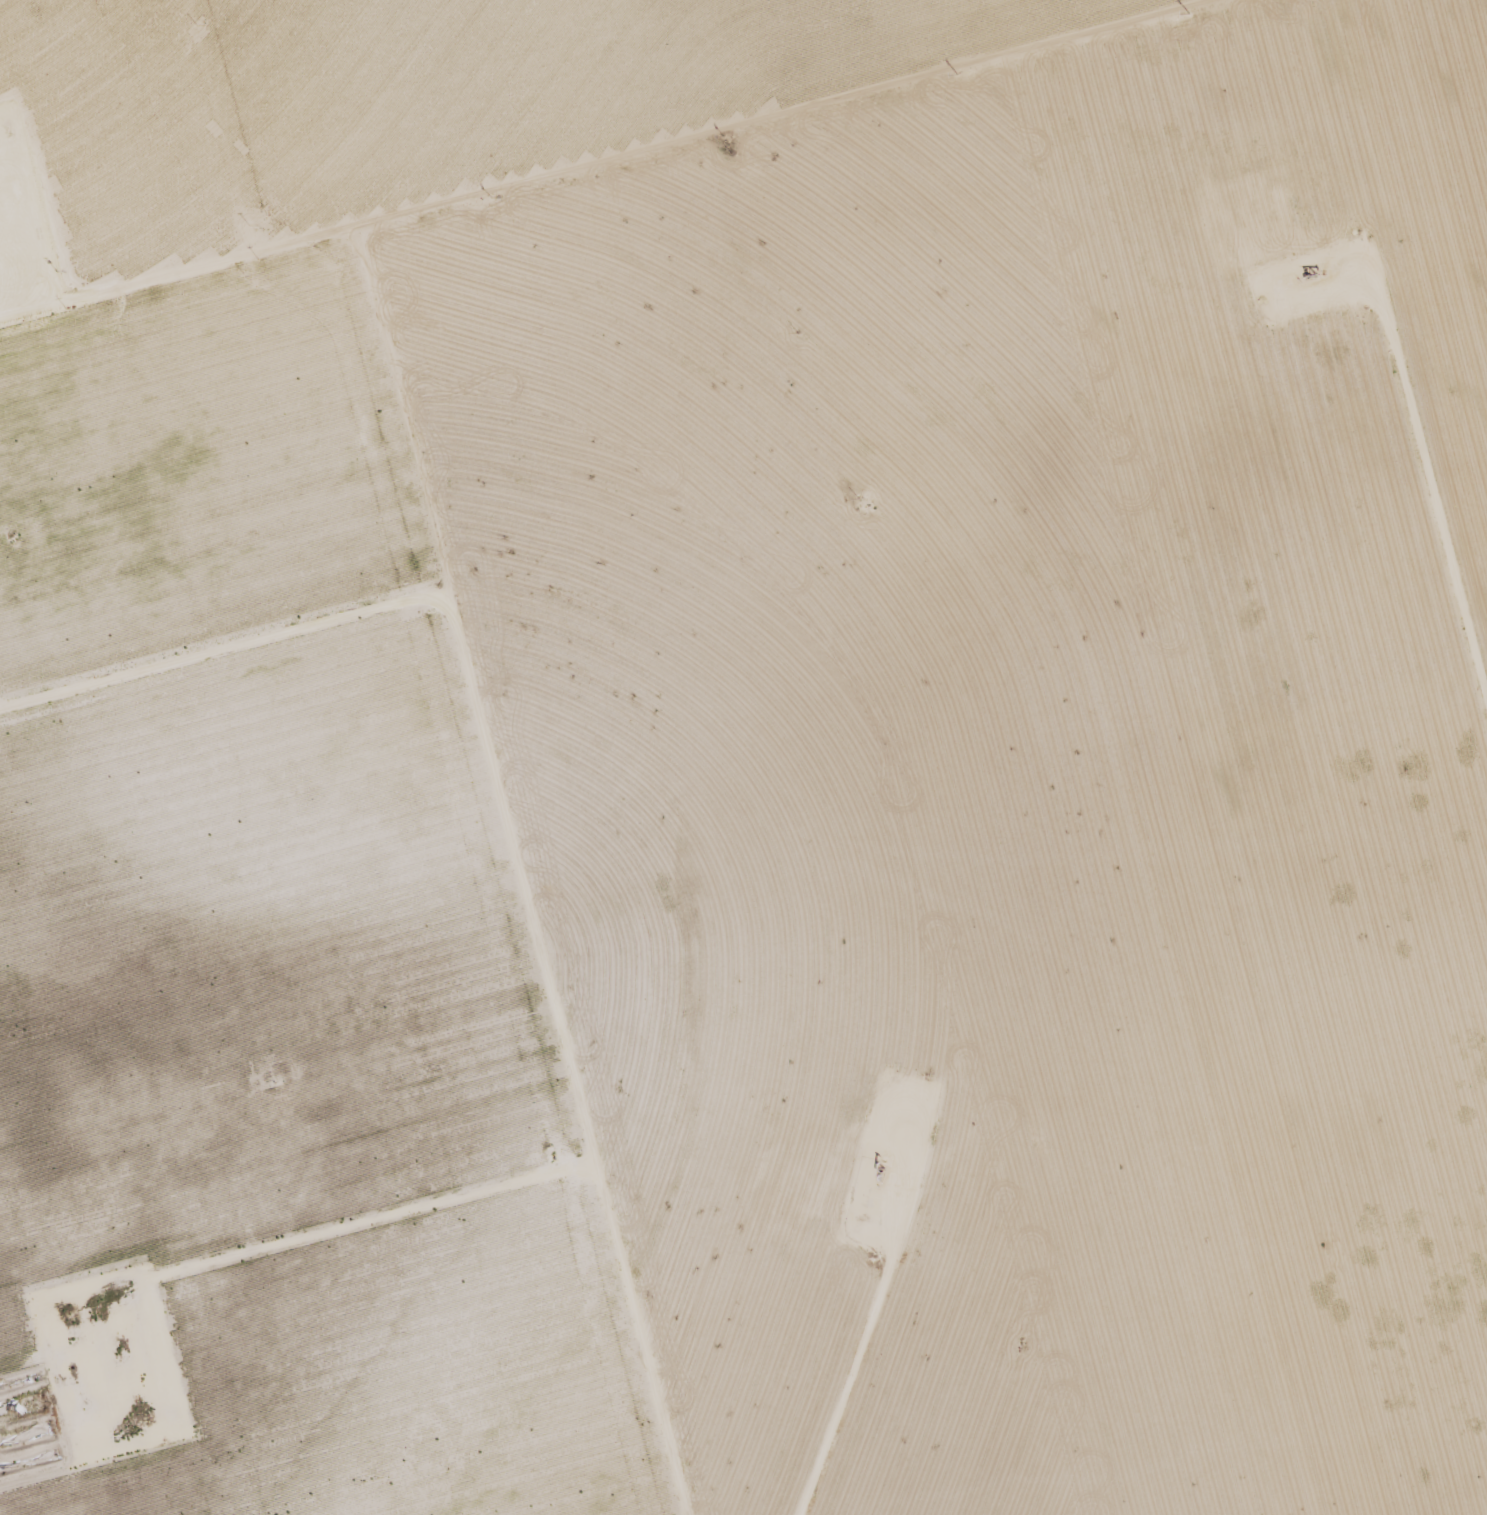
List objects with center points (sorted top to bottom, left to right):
road: (628, 170)

